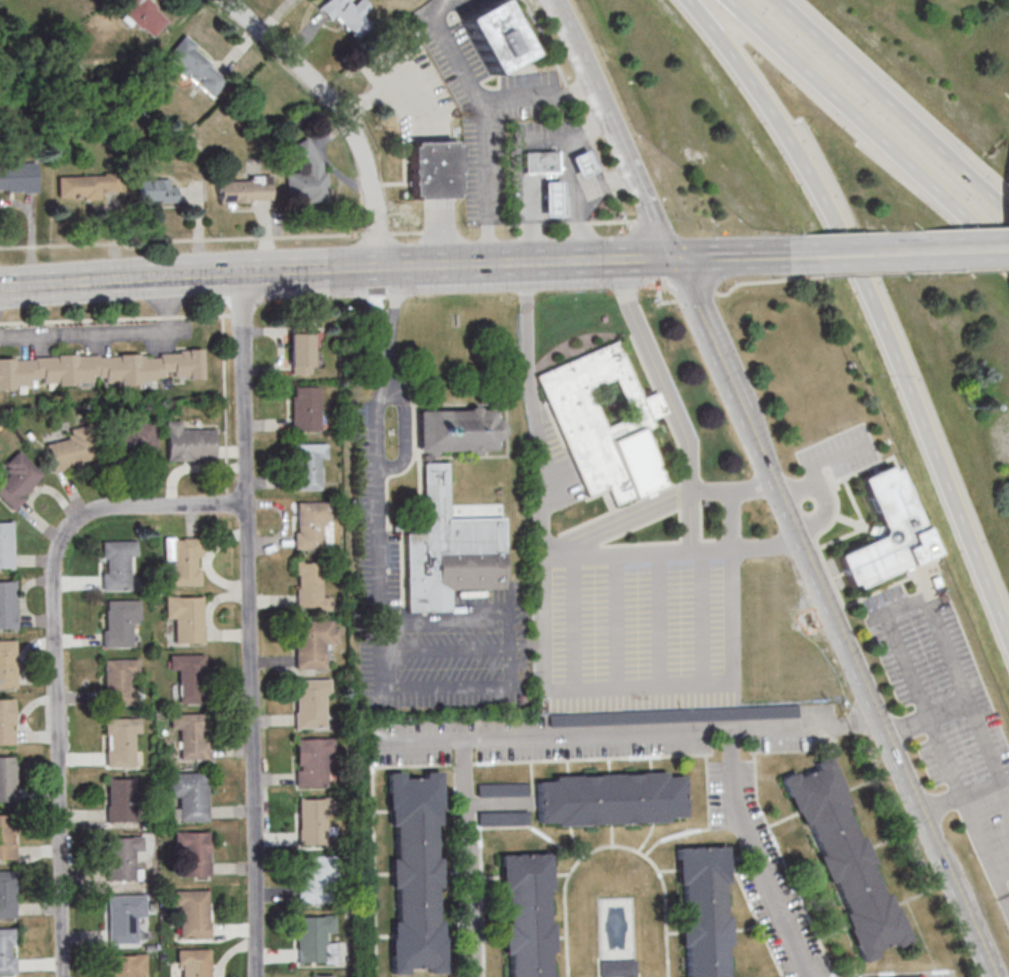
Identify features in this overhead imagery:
building: (348, 15)
building: (146, 16)
building: (495, 37)
building: (194, 66)
road: (537, 97)
road: (894, 105)
road: (342, 112)
road: (482, 123)
road: (869, 128)
road: (611, 129)
building: (539, 163)
building: (581, 164)
building: (433, 169)
building: (18, 177)
road: (540, 180)
road: (569, 181)
building: (85, 186)
building: (305, 188)
building: (157, 190)
building: (244, 191)
building: (551, 200)
road: (975, 248)
road: (918, 250)
road: (854, 252)
road: (741, 257)
traffic signals: (668, 260)
road: (545, 264)
road: (380, 269)
road: (987, 270)
road: (936, 272)
road: (860, 275)
road: (168, 278)
road: (718, 293)
road: (878, 300)
road: (386, 325)
road: (110, 333)
road: (702, 338)
building: (300, 352)
road: (386, 355)
road: (525, 356)
building: (99, 369)
building: (305, 408)
road: (674, 412)
building: (603, 423)
road: (375, 426)
road: (405, 432)
building: (133, 442)
building: (188, 443)
building: (70, 449)
building: (308, 465)
building: (17, 479)
building: (435, 490)
road: (542, 510)
building: (310, 526)
building: (885, 534)
building: (6, 544)
road: (764, 548)
road: (637, 555)
building: (182, 560)
building: (115, 564)
road: (807, 567)
building: (309, 587)
road: (906, 602)
building: (6, 606)
building: (183, 619)
building: (117, 623)
road: (248, 626)
parking lot: (637, 626)
road: (480, 630)
building: (310, 643)
road: (54, 657)
building: (6, 665)
building: (188, 676)
building: (116, 682)
road: (589, 687)
building: (308, 703)
parking lot: (947, 712)
building: (6, 723)
road: (907, 726)
road: (803, 727)
building: (189, 735)
road: (555, 735)
building: (118, 742)
building: (310, 761)
building: (6, 779)
building: (502, 789)
building: (186, 795)
building: (119, 800)
building: (609, 800)
building: (502, 818)
building: (309, 821)
building: (6, 838)
road: (937, 847)
building: (190, 853)
road: (754, 856)
building: (119, 858)
road: (466, 858)
building: (844, 860)
building: (412, 871)
building: (314, 878)
building: (6, 894)
building: (702, 911)
building: (188, 913)
building: (524, 915)
building: (121, 917)
building: (310, 939)
building: (5, 950)
building: (192, 963)
building: (124, 966)
building: (617, 968)
building: (322, 975)
building: (894, 976)

